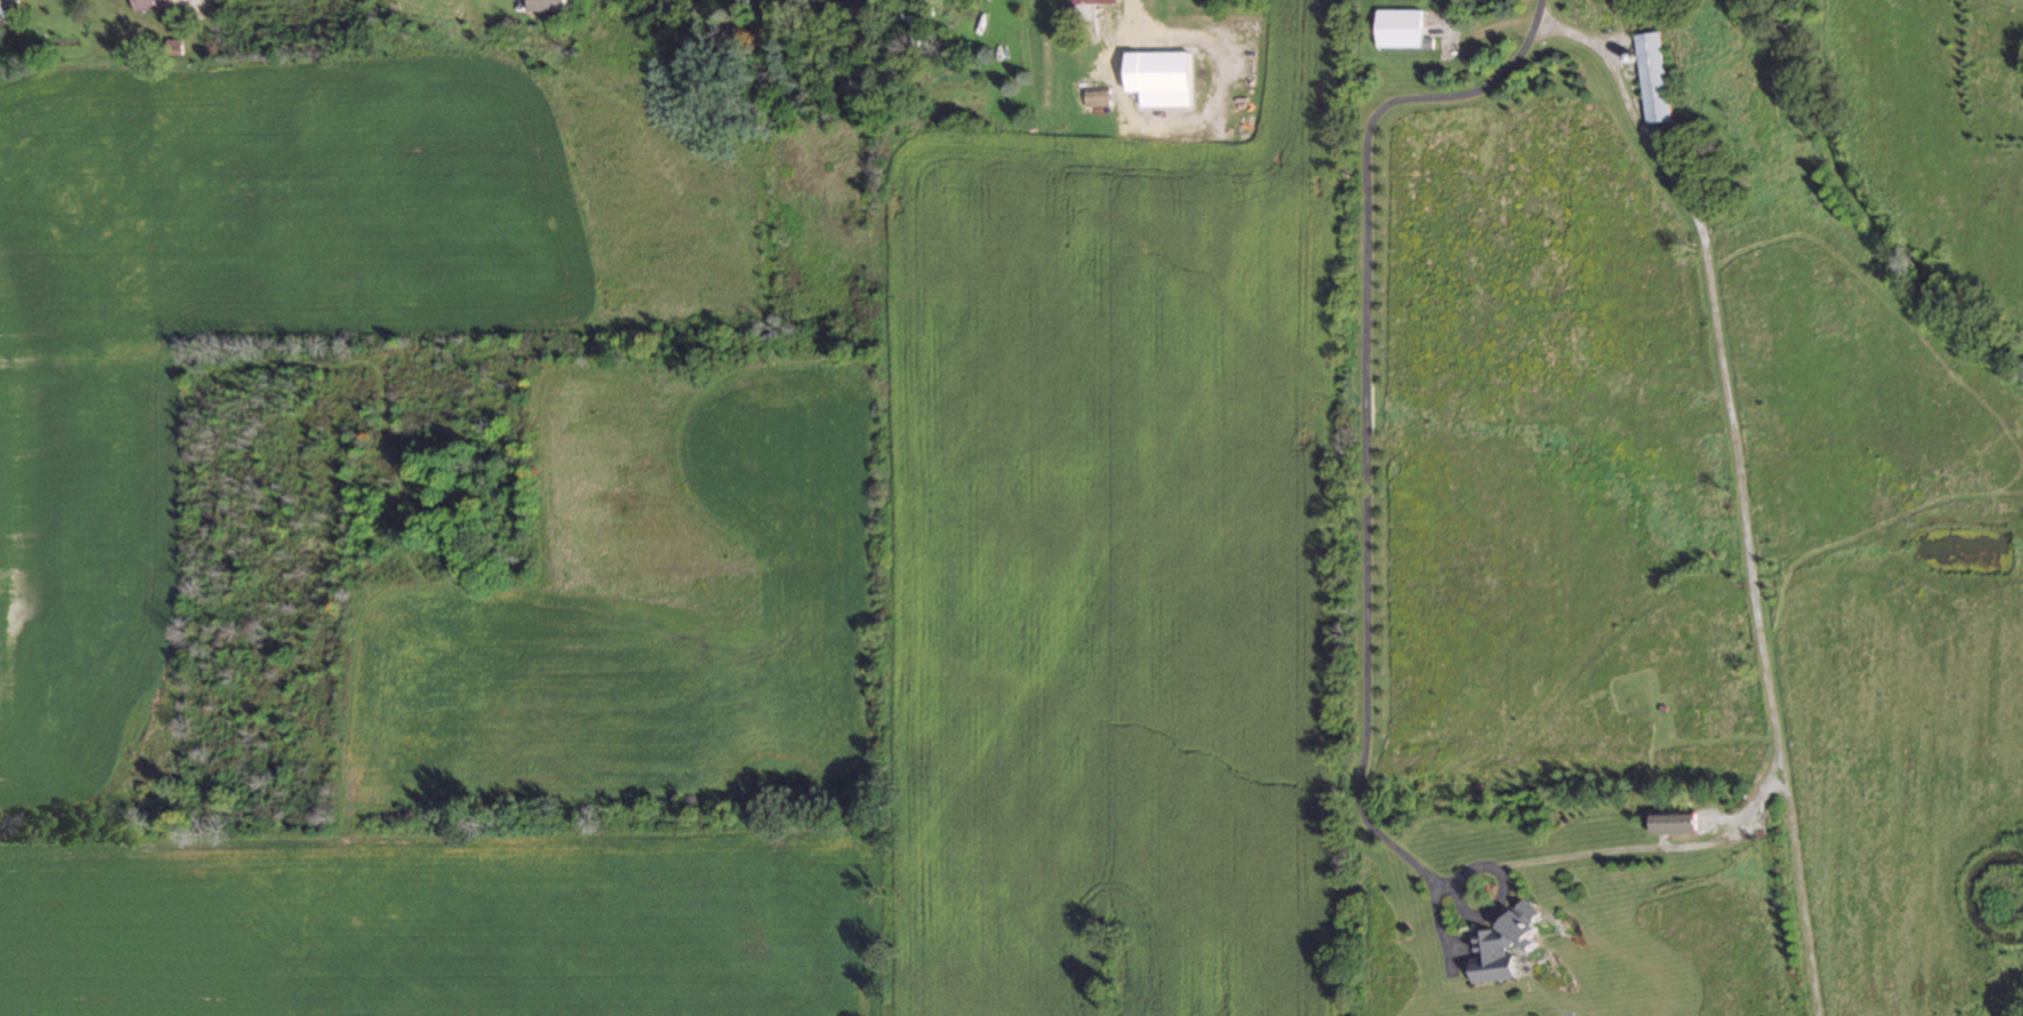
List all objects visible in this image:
building: (925, 0)
building: (1090, 1)
building: (7, 4)
building: (149, 4)
building: (750, 4)
building: (545, 7)
building: (1396, 28)
building: (171, 47)
road: (1115, 73)
building: (1158, 78)
building: (1650, 78)
building: (1095, 97)
road: (1366, 410)
road: (1747, 517)
building: (1673, 820)
road: (1502, 897)
building: (1502, 945)

